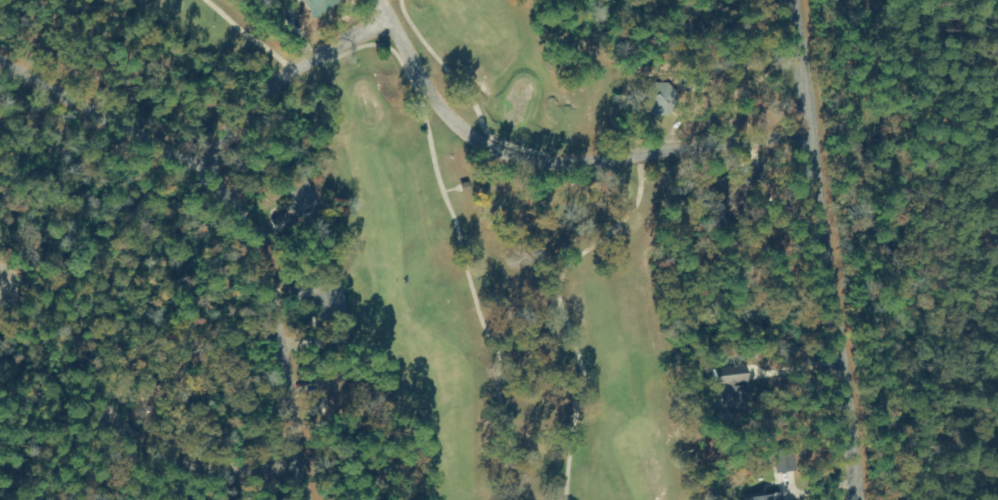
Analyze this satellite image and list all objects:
building: (313, 6)
building: (653, 99)
road: (114, 129)
road: (563, 165)
building: (744, 181)
building: (294, 199)
road: (231, 216)
road: (832, 250)
building: (317, 298)
road: (800, 367)
building: (721, 380)

